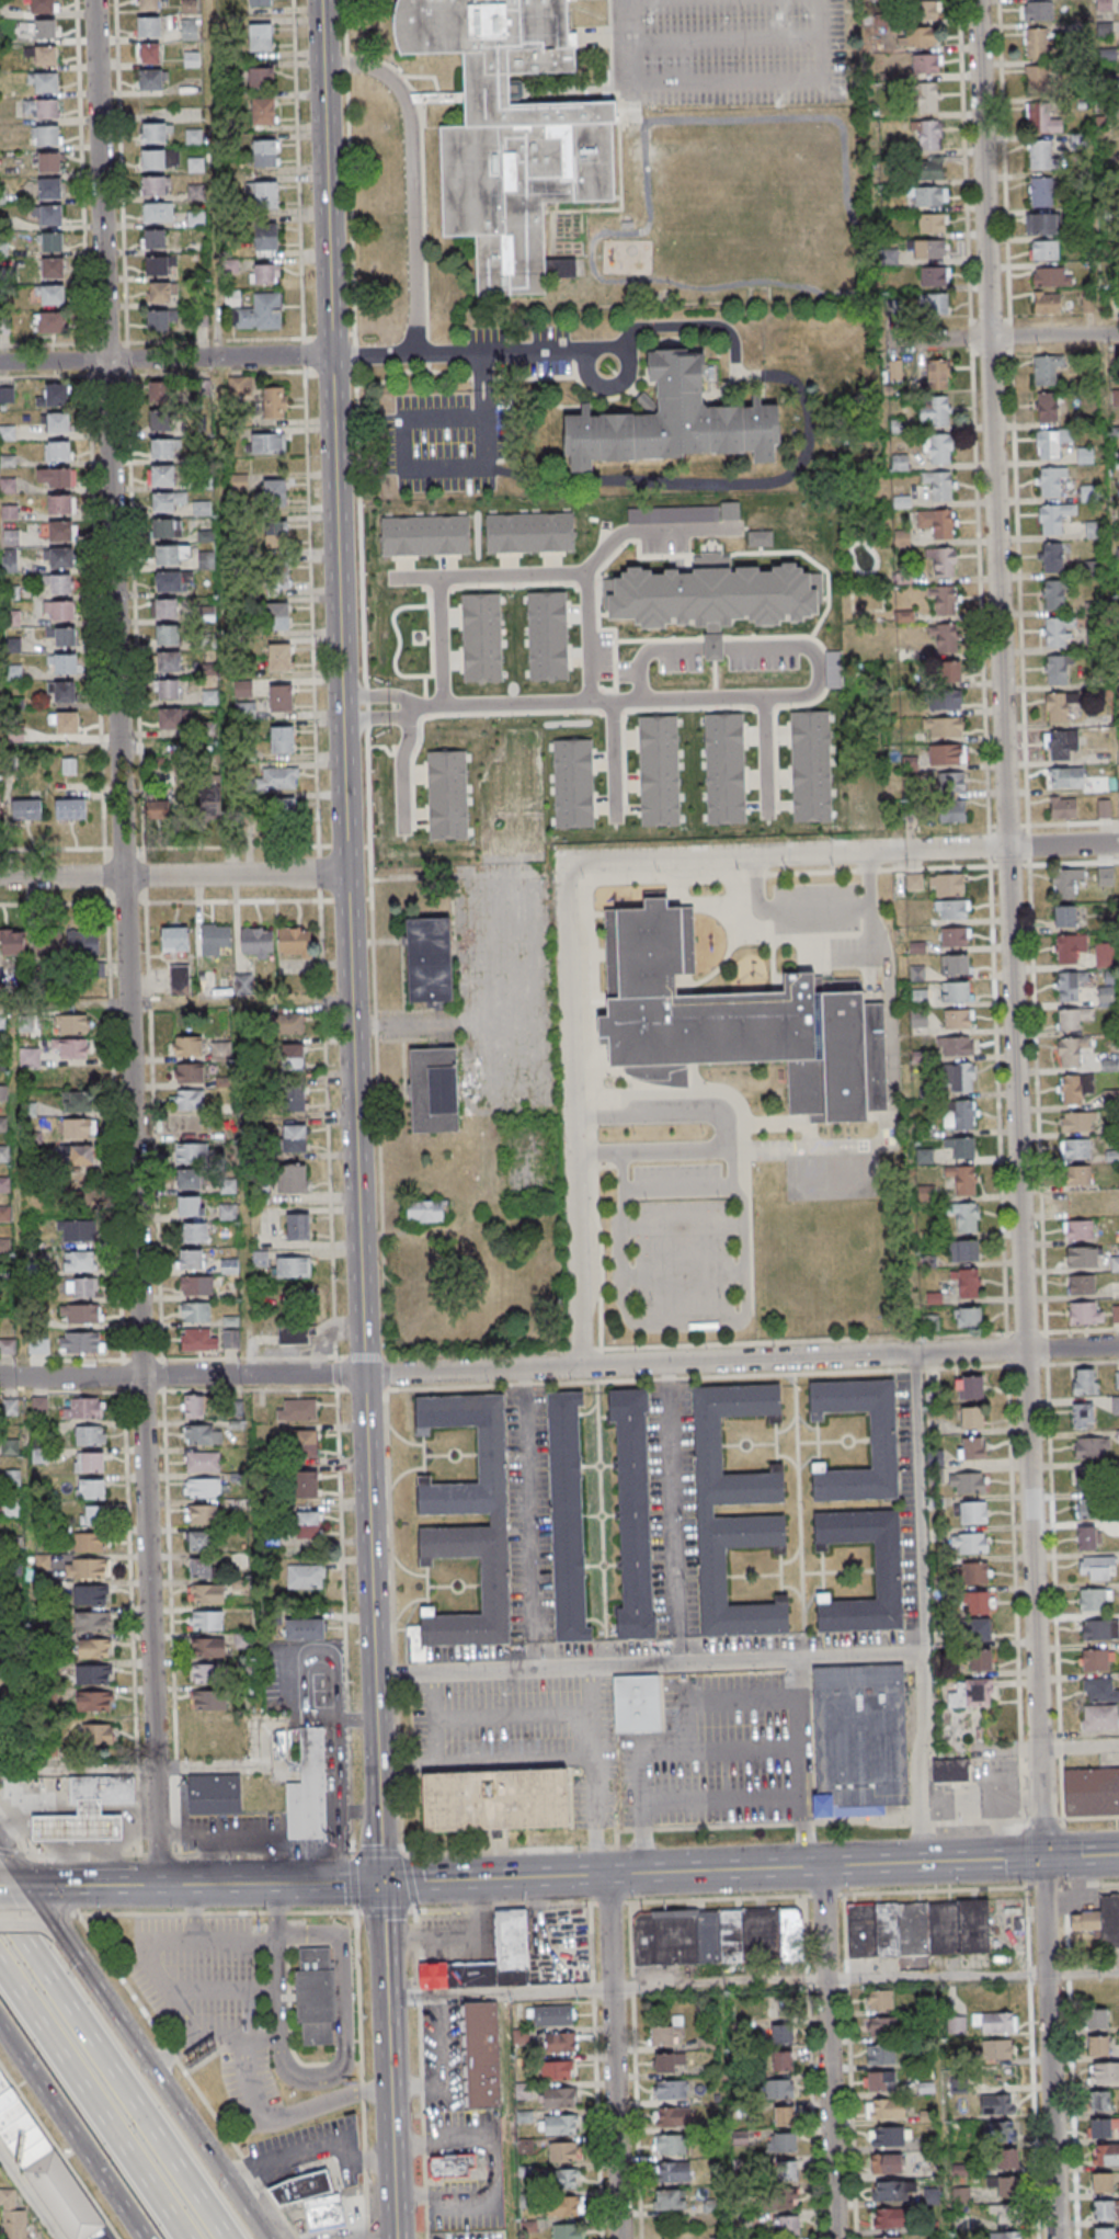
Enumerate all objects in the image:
building: (258, 1)
building: (147, 4)
building: (189, 5)
building: (922, 10)
building: (1038, 10)
building: (148, 26)
building: (43, 29)
building: (190, 29)
building: (920, 36)
building: (261, 37)
road: (721, 38)
building: (1036, 43)
building: (149, 53)
building: (45, 55)
building: (191, 59)
building: (926, 64)
building: (258, 76)
building: (150, 79)
building: (1037, 79)
building: (43, 81)
road: (718, 83)
building: (927, 98)
building: (41, 107)
building: (263, 111)
building: (1042, 120)
building: (152, 133)
building: (506, 134)
building: (46, 135)
building: (927, 135)
building: (265, 152)
building: (1041, 155)
building: (152, 159)
building: (48, 161)
building: (929, 169)
road: (982, 169)
road: (409, 179)
building: (155, 185)
building: (46, 187)
building: (1042, 191)
building: (266, 194)
building: (928, 196)
building: (157, 212)
building: (46, 214)
building: (1041, 223)
building: (932, 224)
building: (265, 237)
building: (152, 238)
building: (49, 241)
building: (929, 250)
building: (1044, 250)
building: (156, 265)
building: (52, 268)
building: (264, 274)
building: (934, 276)
building: (1051, 276)
building: (158, 292)
building: (47, 295)
building: (232, 298)
building: (1047, 303)
building: (936, 304)
building: (261, 312)
building: (157, 319)
building: (48, 322)
road: (706, 326)
road: (994, 338)
road: (614, 349)
road: (461, 354)
road: (164, 359)
road: (85, 361)
road: (479, 364)
building: (1047, 368)
building: (937, 374)
road: (479, 375)
road: (1104, 378)
building: (157, 394)
building: (5, 396)
building: (54, 397)
building: (1116, 397)
building: (274, 401)
road: (480, 406)
building: (1047, 406)
building: (934, 411)
building: (160, 421)
building: (670, 421)
building: (57, 424)
road: (218, 436)
building: (267, 443)
building: (1048, 444)
building: (938, 448)
building: (162, 451)
building: (56, 453)
road: (402, 461)
building: (163, 477)
building: (54, 479)
road: (700, 480)
building: (1051, 481)
building: (238, 482)
building: (939, 485)
building: (274, 493)
building: (1088, 493)
building: (165, 502)
building: (60, 507)
building: (201, 509)
building: (1054, 518)
building: (936, 523)
building: (168, 529)
building: (1093, 530)
building: (60, 532)
building: (275, 533)
building: (526, 533)
building: (422, 536)
building: (173, 555)
building: (1052, 556)
building: (60, 559)
building: (943, 560)
building: (205, 561)
road: (570, 575)
building: (277, 577)
building: (173, 581)
building: (58, 586)
road: (997, 592)
building: (1055, 593)
building: (707, 598)
building: (944, 598)
road: (338, 603)
building: (165, 607)
building: (60, 612)
building: (277, 616)
building: (1057, 629)
building: (167, 635)
road: (586, 635)
building: (479, 636)
building: (545, 636)
building: (945, 636)
building: (64, 637)
road: (438, 643)
road: (712, 648)
road: (644, 651)
building: (278, 652)
building: (167, 662)
building: (62, 663)
building: (1057, 668)
building: (950, 670)
building: (167, 690)
building: (242, 690)
building: (61, 691)
road: (374, 695)
building: (210, 697)
building: (279, 697)
road: (673, 698)
building: (945, 698)
building: (1059, 705)
building: (246, 709)
building: (170, 718)
road: (374, 719)
building: (65, 721)
building: (943, 726)
road: (0, 731)
building: (282, 739)
building: (1061, 743)
road: (59, 749)
building: (946, 753)
road: (764, 754)
road: (612, 760)
building: (172, 761)
road: (400, 766)
building: (808, 766)
building: (722, 770)
building: (513, 771)
building: (654, 771)
building: (1065, 776)
building: (278, 777)
building: (951, 782)
building: (570, 783)
building: (444, 795)
building: (0, 803)
building: (1063, 807)
building: (70, 808)
building: (26, 809)
building: (951, 811)
road: (1062, 844)
road: (786, 854)
road: (317, 874)
road: (172, 875)
building: (914, 880)
building: (1065, 882)
building: (946, 884)
road: (817, 909)
building: (952, 909)
building: (1065, 916)
building: (955, 936)
building: (174, 940)
building: (215, 940)
building: (296, 941)
building: (12, 942)
building: (82, 942)
road: (125, 942)
building: (256, 942)
building: (47, 944)
building: (1066, 948)
road: (482, 961)
building: (430, 964)
building: (954, 964)
building: (180, 978)
building: (243, 984)
building: (1067, 986)
building: (955, 991)
road: (178, 1002)
building: (1072, 1018)
building: (957, 1019)
road: (458, 1022)
building: (737, 1022)
building: (290, 1024)
building: (72, 1025)
building: (956, 1046)
building: (187, 1047)
building: (73, 1050)
building: (1071, 1050)
building: (292, 1056)
building: (1109, 1065)
building: (190, 1073)
building: (961, 1078)
building: (1075, 1088)
building: (434, 1091)
building: (293, 1098)
road: (1015, 1098)
building: (1111, 1098)
building: (190, 1101)
building: (77, 1103)
building: (958, 1114)
road: (571, 1117)
building: (1078, 1121)
building: (78, 1129)
building: (295, 1138)
road: (875, 1145)
building: (960, 1146)
building: (1075, 1148)
building: (191, 1153)
building: (82, 1157)
building: (1077, 1174)
building: (292, 1178)
building: (962, 1178)
building: (189, 1180)
building: (4, 1184)
road: (12, 1191)
building: (190, 1206)
building: (227, 1212)
building: (425, 1212)
building: (4, 1214)
building: (966, 1216)
building: (298, 1226)
building: (1078, 1229)
building: (77, 1231)
building: (195, 1232)
building: (4, 1246)
building: (964, 1250)
building: (1082, 1255)
building: (260, 1258)
building: (190, 1260)
building: (79, 1262)
building: (1115, 1263)
building: (228, 1265)
building: (293, 1266)
building: (2, 1272)
building: (969, 1282)
building: (1081, 1284)
building: (195, 1285)
building: (80, 1288)
road: (361, 1291)
road: (744, 1300)
building: (194, 1312)
building: (1085, 1312)
building: (82, 1314)
building: (1116, 1314)
building: (968, 1316)
building: (292, 1336)
building: (230, 1339)
building: (197, 1340)
building: (79, 1342)
building: (38, 1345)
building: (8, 1346)
road: (848, 1356)
road: (59, 1360)
road: (139, 1360)
road: (470, 1371)
road: (182, 1375)
road: (121, 1376)
building: (1117, 1379)
building: (1083, 1380)
building: (970, 1387)
building: (1116, 1405)
building: (193, 1406)
building: (81, 1409)
building: (298, 1410)
building: (1083, 1414)
building: (972, 1418)
building: (197, 1436)
building: (88, 1437)
building: (880, 1441)
building: (306, 1443)
building: (10, 1447)
building: (1092, 1447)
building: (972, 1448)
building: (202, 1463)
building: (85, 1464)
building: (1089, 1477)
building: (968, 1482)
building: (308, 1484)
building: (202, 1489)
building: (87, 1491)
building: (1095, 1507)
building: (700, 1508)
road: (671, 1512)
building: (972, 1512)
building: (631, 1513)
building: (564, 1514)
building: (91, 1515)
building: (199, 1516)
road: (527, 1516)
road: (370, 1523)
building: (308, 1524)
building: (478, 1526)
building: (1088, 1537)
building: (85, 1543)
building: (199, 1544)
building: (968, 1544)
road: (165, 1555)
building: (1097, 1568)
building: (85, 1570)
building: (202, 1570)
building: (886, 1571)
road: (127, 1572)
building: (975, 1572)
building: (299, 1577)
building: (205, 1595)
building: (87, 1596)
building: (1095, 1599)
building: (978, 1603)
road: (920, 1607)
building: (204, 1623)
building: (87, 1624)
building: (978, 1628)
building: (1100, 1628)
building: (304, 1630)
building: (205, 1649)
building: (89, 1650)
building: (980, 1659)
building: (1097, 1659)
road: (649, 1661)
building: (207, 1674)
building: (89, 1677)
road: (590, 1690)
building: (1099, 1690)
building: (971, 1694)
building: (207, 1702)
building: (90, 1704)
building: (635, 1704)
building: (1099, 1717)
road: (486, 1719)
building: (93, 1736)
building: (864, 1739)
road: (377, 1741)
road: (1078, 1746)
road: (980, 1748)
road: (664, 1749)
road: (803, 1760)
road: (487, 1764)
building: (950, 1770)
building: (105, 1789)
building: (308, 1789)
building: (1092, 1791)
building: (218, 1794)
road: (1039, 1794)
road: (596, 1795)
building: (498, 1798)
road: (356, 1810)
building: (82, 1823)
road: (754, 1823)
road: (377, 1846)
road: (379, 1851)
road: (178, 1854)
traffic signals: (1042, 1857)
road: (863, 1864)
road: (13, 1867)
road: (492, 1878)
traffic signals: (379, 1883)
road: (269, 1884)
road: (85, 1885)
road: (151, 1885)
road: (15, 1886)
traffic signals: (26, 1886)
road: (2, 1887)
building: (1100, 1920)
road: (22, 1922)
building: (917, 1928)
road: (56, 1931)
building: (719, 1935)
road: (263, 1937)
road: (145, 1947)
building: (498, 1956)
road: (971, 1975)
road: (718, 1982)
road: (498, 1991)
building: (316, 1996)
building: (879, 2000)
road: (278, 2002)
building: (553, 2015)
road: (345, 2016)
road: (149, 2020)
building: (1097, 2020)
building: (995, 2022)
building: (956, 2024)
building: (881, 2026)
building: (781, 2034)
building: (665, 2035)
building: (566, 2043)
building: (1098, 2046)
building: (997, 2048)
road: (827, 2052)
building: (482, 2055)
building: (881, 2055)
road: (613, 2056)
road: (151, 2060)
road: (388, 2060)
building: (781, 2061)
building: (665, 2064)
building: (557, 2071)
building: (1105, 2072)
road: (112, 2073)
building: (879, 2081)
building: (925, 2088)
building: (780, 2090)
building: (671, 2091)
road: (256, 2093)
building: (559, 2098)
building: (1100, 2100)
road: (93, 2103)
building: (996, 2104)
building: (884, 2110)
building: (783, 2117)
building: (672, 2118)
building: (560, 2125)
building: (1099, 2127)
building: (997, 2130)
road: (71, 2133)
building: (888, 2137)
building: (784, 2144)
building: (670, 2146)
road: (312, 2151)
building: (562, 2151)
building: (1106, 2153)
building: (1006, 2159)
building: (47, 2164)
building: (454, 2164)
building: (886, 2164)
road: (498, 2168)
building: (783, 2171)
building: (673, 2173)
building: (562, 2179)
building: (1103, 2182)
building: (1007, 2187)
building: (892, 2192)
road: (28, 2194)
building: (932, 2195)
building: (961, 2196)
building: (669, 2202)
building: (564, 2207)
building: (1104, 2210)
building: (328, 2212)
building: (1005, 2215)
building: (12, 2216)
building: (890, 2218)
building: (788, 2226)
building: (566, 2231)
building: (1105, 2234)
building: (105, 2235)
building: (1004, 2235)
building: (888, 2237)

